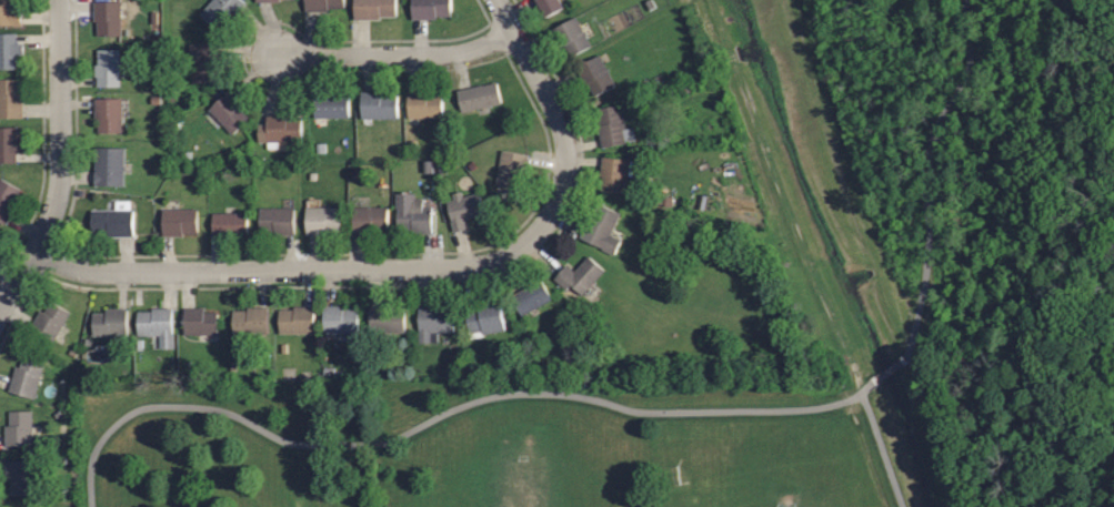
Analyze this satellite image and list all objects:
building: (267, 1)
building: (322, 4)
building: (550, 6)
building: (429, 8)
building: (373, 9)
building: (9, 11)
building: (220, 11)
building: (107, 18)
building: (571, 36)
building: (9, 50)
road: (395, 53)
building: (202, 61)
building: (107, 67)
building: (594, 74)
building: (479, 94)
building: (10, 99)
building: (424, 103)
building: (331, 104)
building: (379, 104)
building: (228, 111)
road: (555, 111)
building: (108, 113)
building: (613, 126)
building: (278, 131)
building: (9, 144)
road: (60, 161)
building: (109, 166)
building: (511, 166)
building: (613, 174)
building: (7, 199)
building: (462, 207)
building: (413, 213)
building: (322, 217)
building: (369, 217)
building: (277, 219)
building: (112, 220)
building: (179, 220)
building: (230, 222)
building: (601, 227)
road: (289, 270)
building: (580, 275)
building: (530, 297)
building: (339, 317)
building: (387, 317)
building: (50, 318)
building: (295, 318)
building: (250, 320)
building: (110, 321)
building: (200, 321)
building: (433, 321)
building: (483, 321)
building: (154, 325)
building: (26, 375)
road: (642, 414)
building: (19, 427)
park: (483, 449)
road: (883, 450)
building: (19, 475)
park: (737, 497)

